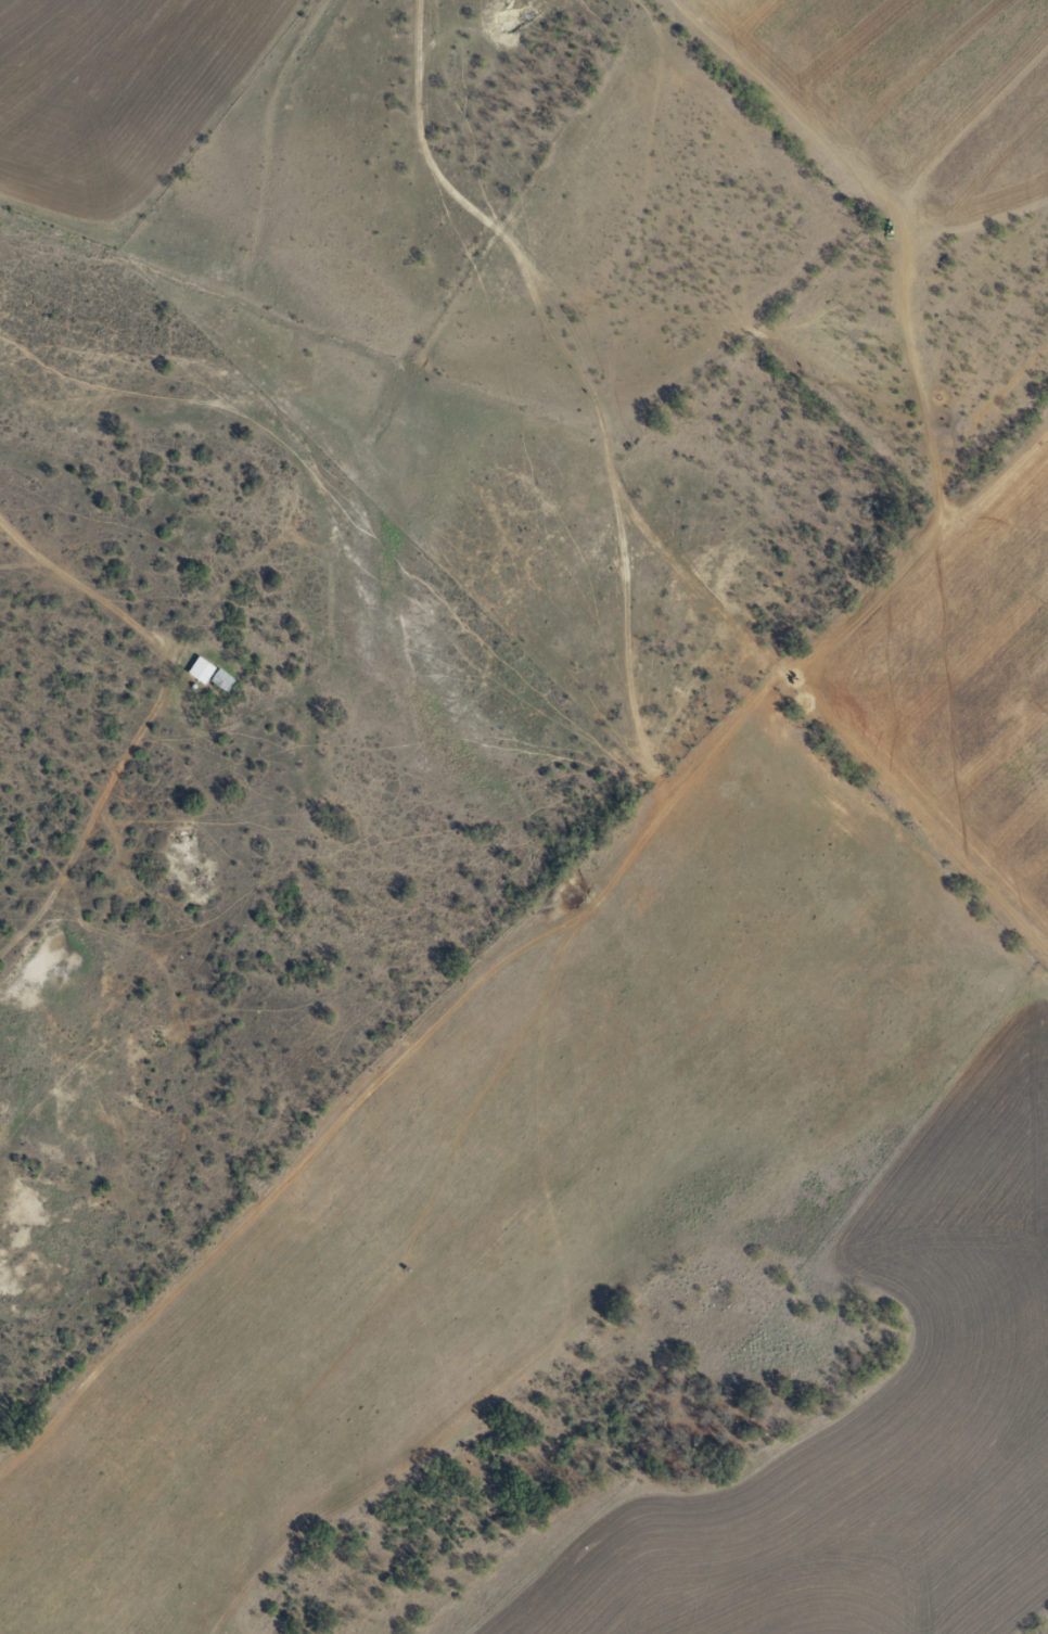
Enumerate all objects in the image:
crop: (912, 95)
crop: (111, 98)
building: (961, 296)
road: (2, 545)
building: (208, 673)
crop: (962, 680)
crop: (495, 1189)
crop: (868, 1430)

